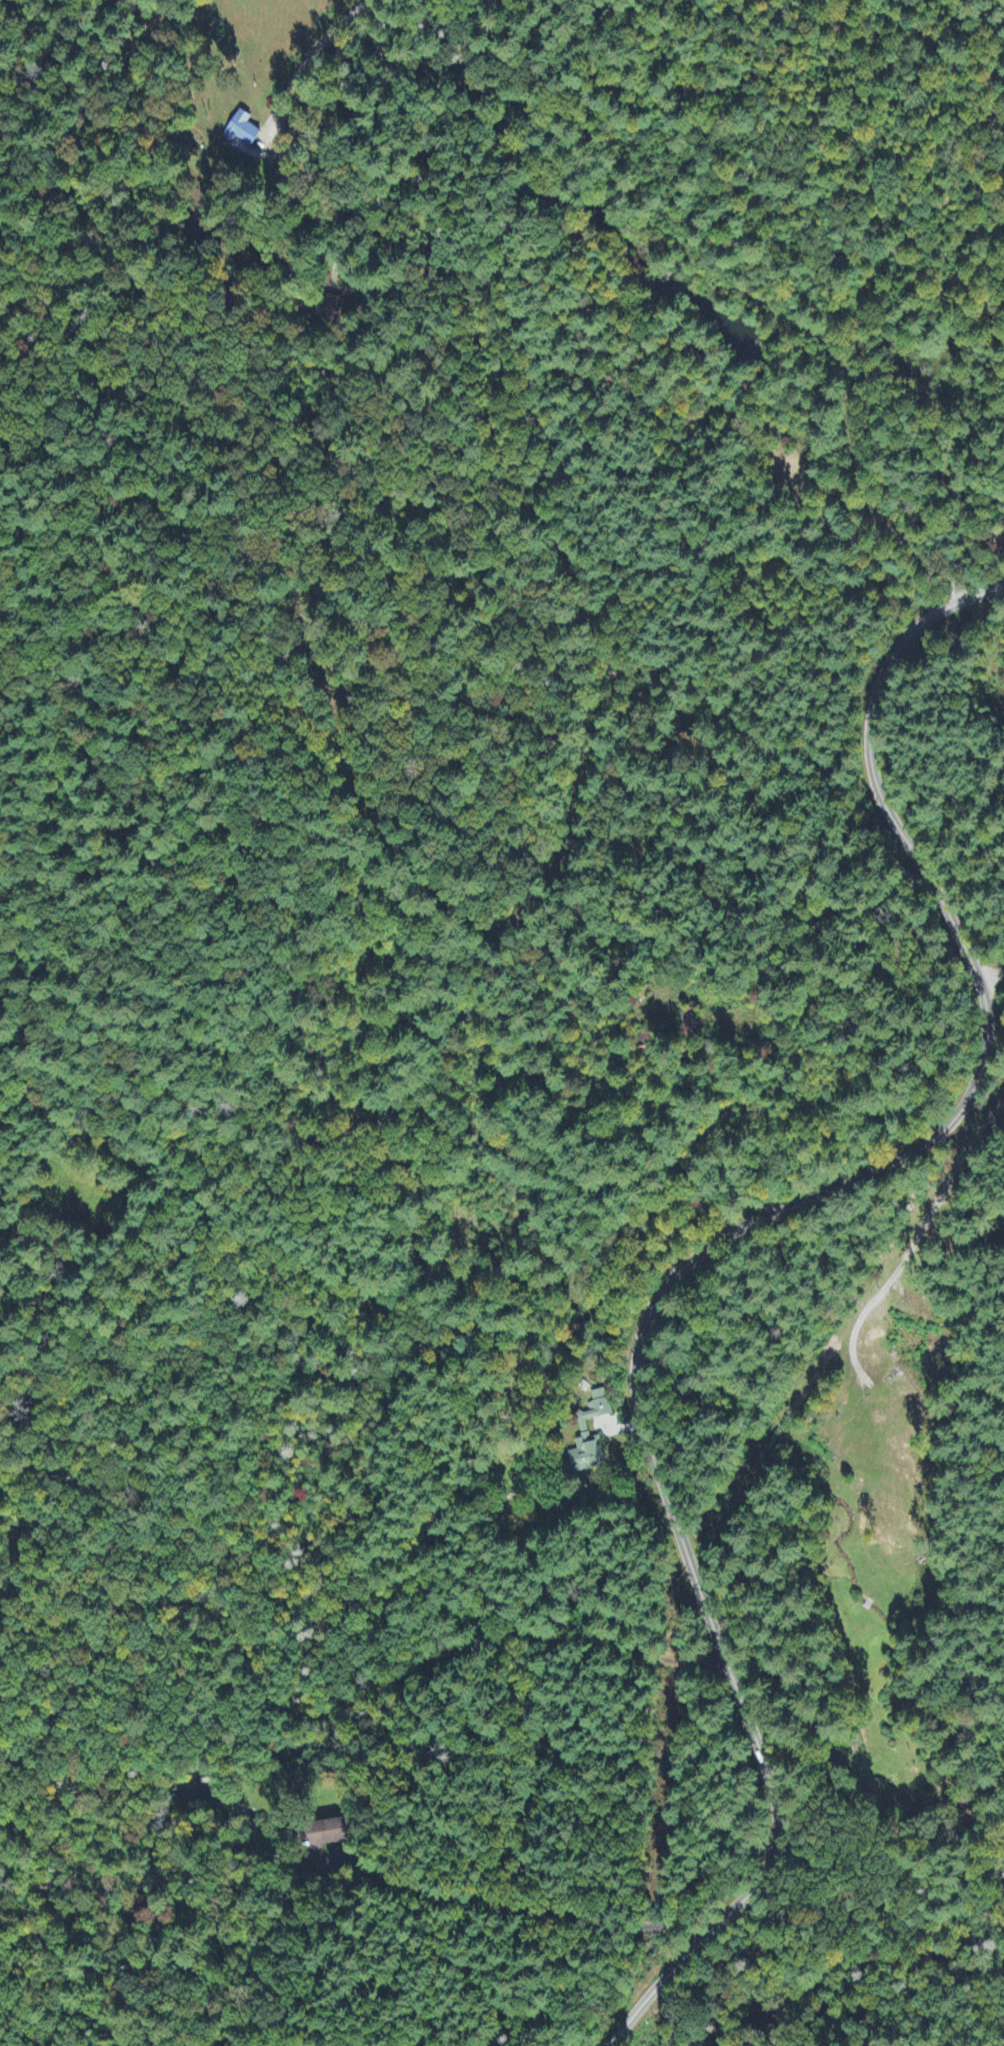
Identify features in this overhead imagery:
building: (241, 131)
road: (535, 529)
road: (878, 592)
road: (989, 985)
road: (671, 1134)
road: (709, 1247)
building: (599, 1424)
building: (583, 1429)
park: (7, 1570)
building: (329, 1835)

